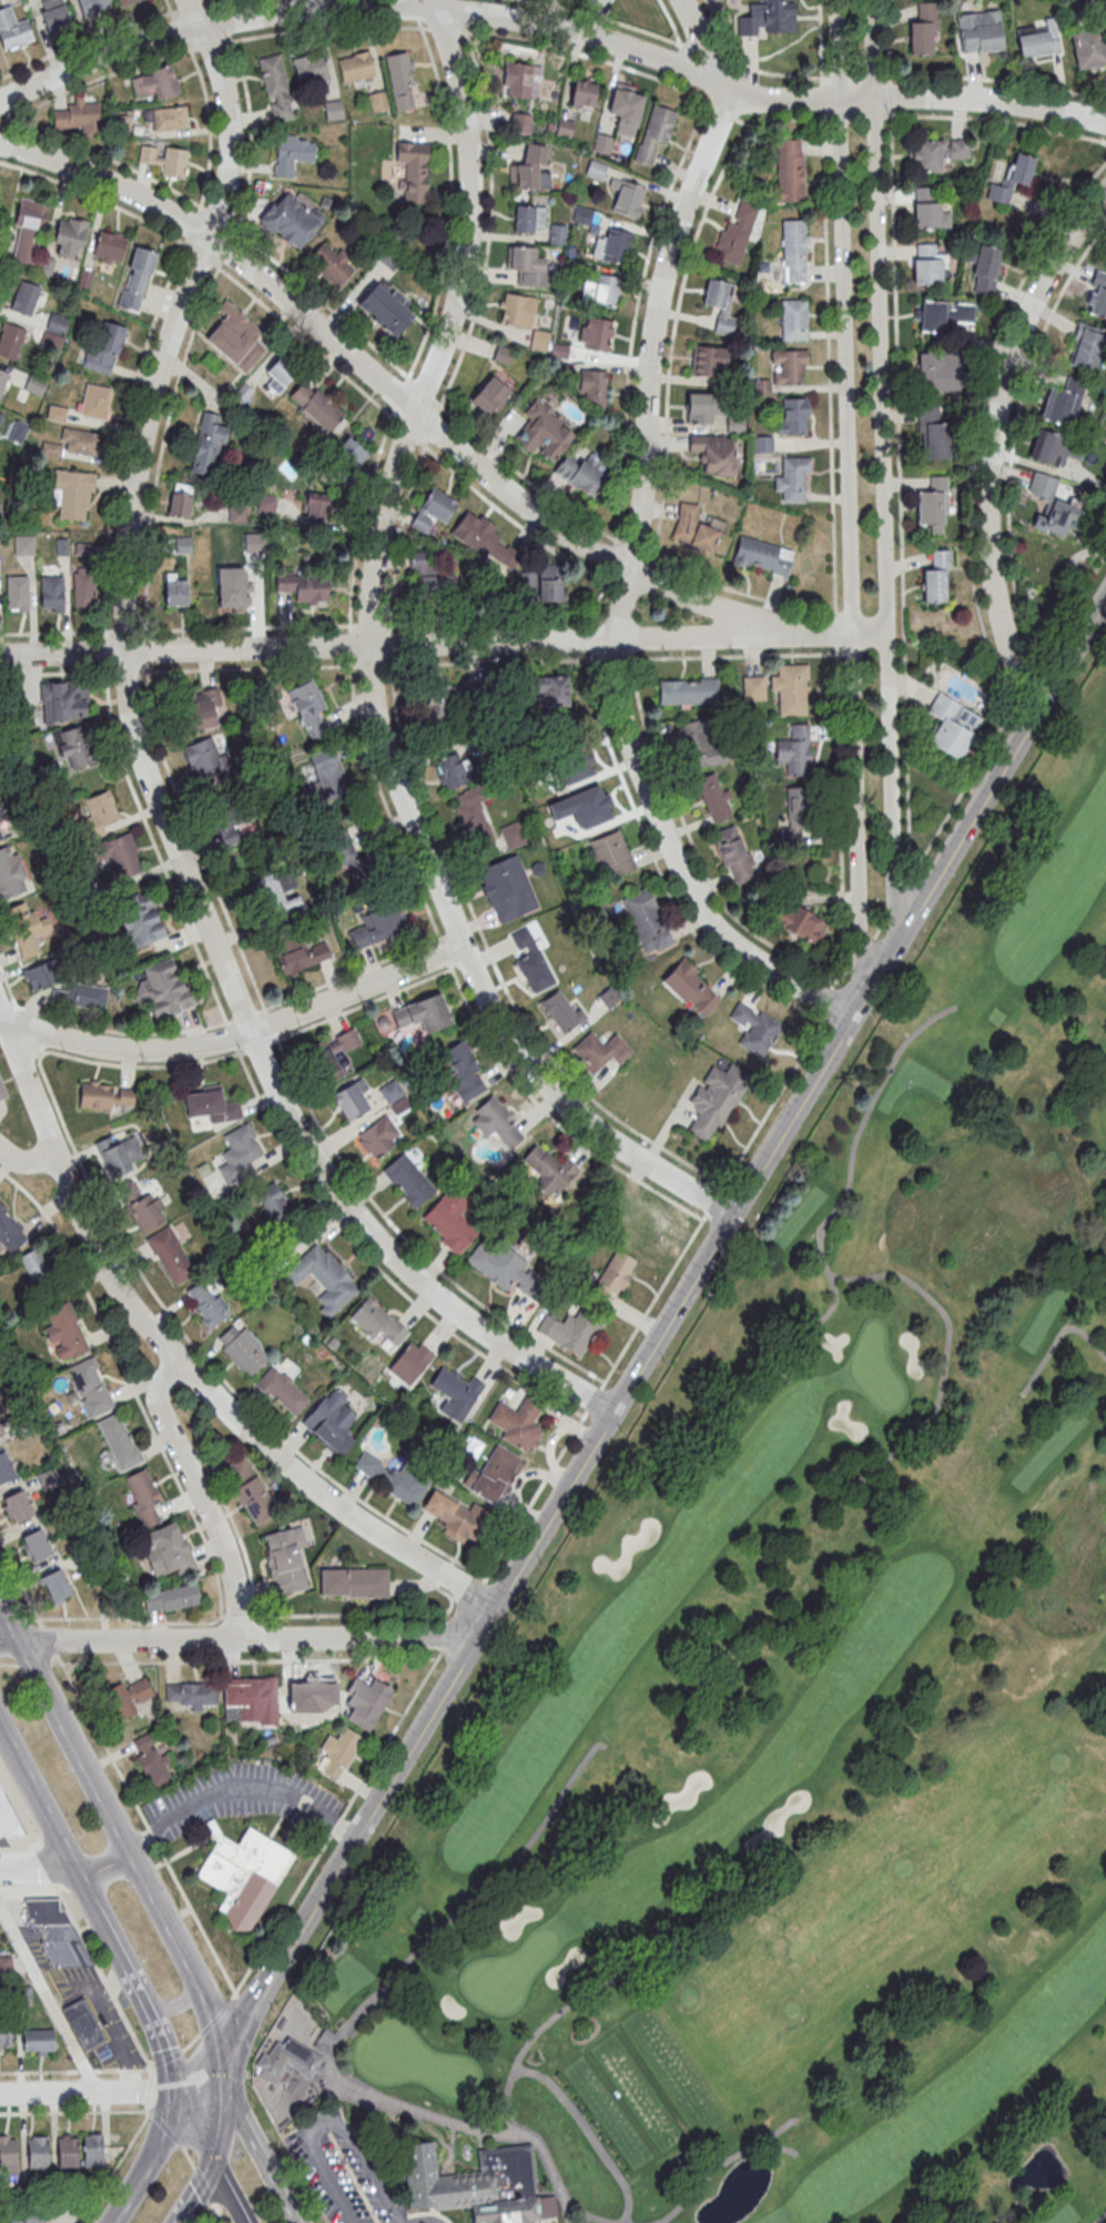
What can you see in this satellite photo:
building: (124, 1)
road: (217, 2)
building: (92, 7)
road: (189, 8)
road: (169, 9)
road: (414, 9)
building: (774, 9)
road: (459, 10)
building: (53, 13)
road: (608, 17)
road: (326, 27)
road: (444, 29)
road: (552, 29)
building: (923, 29)
building: (12, 30)
road: (180, 30)
building: (978, 30)
building: (1037, 38)
road: (85, 41)
road: (821, 41)
road: (890, 43)
road: (680, 44)
road: (212, 46)
building: (1089, 47)
road: (704, 48)
road: (730, 49)
building: (355, 67)
building: (310, 68)
road: (750, 68)
road: (856, 75)
road: (101, 78)
building: (520, 79)
road: (995, 79)
building: (400, 80)
building: (155, 81)
building: (275, 87)
building: (582, 93)
road: (822, 98)
road: (892, 99)
building: (377, 100)
road: (2, 107)
building: (626, 108)
building: (333, 109)
road: (709, 109)
road: (724, 113)
building: (77, 115)
road: (855, 117)
building: (165, 118)
road: (250, 118)
road: (996, 120)
road: (9, 121)
road: (741, 121)
building: (520, 122)
road: (210, 125)
building: (565, 128)
building: (655, 132)
road: (4, 138)
building: (602, 142)
building: (936, 152)
building: (292, 153)
road: (112, 159)
building: (164, 159)
building: (531, 168)
building: (413, 169)
building: (790, 169)
building: (1011, 178)
road: (667, 192)
building: (627, 196)
road: (99, 198)
road: (13, 199)
road: (451, 203)
building: (927, 209)
road: (217, 214)
building: (581, 214)
building: (528, 219)
building: (290, 220)
road: (490, 220)
road: (194, 224)
building: (29, 229)
building: (557, 233)
building: (734, 235)
building: (69, 236)
building: (612, 245)
building: (108, 246)
road: (226, 250)
building: (793, 250)
road: (203, 255)
building: (389, 257)
building: (331, 263)
building: (927, 263)
building: (528, 265)
building: (984, 269)
building: (139, 272)
building: (600, 290)
road: (681, 296)
building: (23, 297)
road: (322, 301)
building: (1098, 302)
building: (720, 303)
building: (513, 306)
building: (385, 309)
building: (943, 314)
building: (793, 319)
building: (235, 336)
building: (593, 337)
building: (10, 338)
road: (308, 343)
building: (1086, 346)
building: (103, 350)
building: (709, 360)
building: (790, 366)
road: (831, 366)
building: (936, 370)
building: (278, 374)
building: (2, 378)
building: (592, 386)
road: (425, 390)
road: (388, 391)
building: (489, 394)
road: (400, 396)
building: (1063, 400)
building: (94, 401)
building: (318, 407)
building: (702, 407)
building: (793, 415)
road: (975, 418)
building: (735, 423)
road: (432, 427)
building: (545, 431)
road: (124, 433)
road: (410, 433)
road: (991, 436)
road: (1014, 436)
building: (936, 439)
building: (80, 441)
building: (762, 443)
building: (207, 444)
road: (163, 445)
building: (1046, 446)
building: (713, 453)
building: (353, 455)
road: (882, 469)
building: (581, 473)
road: (525, 476)
building: (793, 478)
road: (899, 486)
building: (72, 493)
road: (848, 497)
building: (266, 502)
building: (180, 503)
building: (932, 503)
building: (317, 505)
building: (1054, 507)
building: (434, 512)
building: (236, 513)
road: (363, 518)
road: (513, 518)
building: (694, 527)
road: (399, 534)
building: (480, 538)
building: (182, 544)
road: (632, 544)
building: (23, 545)
road: (633, 549)
road: (609, 555)
building: (762, 555)
road: (650, 556)
building: (427, 575)
building: (935, 580)
building: (542, 583)
road: (620, 583)
building: (304, 586)
building: (175, 588)
building: (84, 590)
building: (17, 593)
building: (51, 593)
building: (229, 593)
road: (747, 593)
road: (598, 596)
road: (1072, 609)
road: (848, 613)
road: (487, 623)
road: (367, 625)
road: (245, 627)
road: (126, 629)
road: (59, 631)
road: (836, 633)
road: (834, 635)
road: (595, 639)
road: (390, 641)
road: (352, 643)
road: (384, 643)
road: (631, 645)
road: (143, 650)
road: (108, 651)
road: (848, 653)
road: (733, 655)
road: (613, 658)
road: (493, 660)
road: (371, 664)
road: (369, 666)
road: (251, 667)
road: (130, 670)
road: (59, 674)
road: (1031, 678)
building: (753, 687)
building: (791, 688)
building: (688, 690)
building: (545, 694)
building: (63, 700)
building: (438, 706)
building: (308, 707)
building: (195, 709)
building: (948, 727)
building: (701, 745)
building: (72, 747)
building: (795, 749)
building: (202, 757)
building: (328, 768)
road: (146, 781)
road: (965, 784)
building: (713, 797)
road: (385, 800)
building: (796, 812)
building: (98, 814)
building: (474, 816)
building: (224, 829)
building: (0, 833)
building: (511, 835)
road: (197, 839)
road: (158, 849)
building: (356, 851)
building: (610, 853)
building: (733, 853)
building: (113, 855)
road: (660, 869)
building: (10, 873)
building: (504, 889)
building: (276, 897)
building: (139, 918)
building: (646, 919)
building: (799, 921)
building: (379, 924)
road: (881, 926)
building: (28, 927)
road: (451, 933)
road: (446, 952)
building: (298, 953)
building: (531, 959)
road: (496, 962)
road: (463, 964)
road: (804, 964)
road: (848, 970)
road: (354, 972)
road: (832, 984)
road: (9, 988)
building: (163, 988)
building: (691, 988)
building: (80, 996)
building: (609, 996)
road: (831, 1002)
road: (858, 1002)
road: (364, 1004)
building: (561, 1011)
building: (424, 1012)
road: (247, 1015)
road: (271, 1023)
building: (754, 1028)
road: (124, 1030)
road: (30, 1032)
road: (236, 1037)
road: (233, 1039)
road: (20, 1043)
road: (258, 1048)
building: (334, 1051)
building: (599, 1051)
road: (41, 1053)
building: (464, 1070)
building: (2, 1090)
building: (94, 1094)
building: (713, 1098)
building: (352, 1100)
building: (212, 1104)
road: (551, 1114)
building: (497, 1121)
building: (377, 1136)
building: (121, 1152)
building: (239, 1153)
road: (27, 1162)
building: (408, 1180)
road: (848, 1184)
building: (126, 1191)
road: (74, 1193)
building: (273, 1201)
road: (712, 1201)
building: (145, 1211)
building: (631, 1217)
building: (450, 1220)
building: (10, 1230)
road: (408, 1239)
building: (170, 1254)
building: (34, 1264)
road: (377, 1265)
building: (501, 1265)
building: (615, 1274)
building: (324, 1277)
road: (145, 1280)
building: (206, 1302)
building: (378, 1321)
building: (568, 1330)
building: (64, 1331)
road: (1056, 1336)
building: (242, 1348)
road: (944, 1352)
building: (409, 1362)
park: (874, 1366)
building: (90, 1386)
building: (282, 1391)
building: (456, 1392)
road: (155, 1398)
road: (595, 1398)
building: (332, 1421)
building: (519, 1421)
building: (120, 1442)
building: (4, 1467)
road: (172, 1469)
building: (493, 1474)
building: (48, 1477)
building: (388, 1477)
building: (248, 1489)
building: (143, 1496)
road: (536, 1496)
road: (324, 1498)
building: (18, 1506)
road: (551, 1509)
building: (453, 1514)
road: (236, 1532)
road: (219, 1536)
building: (35, 1545)
building: (166, 1550)
building: (285, 1559)
road: (20, 1582)
building: (353, 1582)
road: (417, 1583)
building: (55, 1584)
road: (469, 1589)
building: (171, 1597)
road: (451, 1598)
road: (369, 1615)
road: (221, 1616)
road: (236, 1616)
road: (13, 1618)
road: (444, 1618)
road: (484, 1621)
road: (354, 1637)
road: (443, 1637)
road: (48, 1639)
road: (116, 1640)
road: (243, 1660)
road: (33, 1663)
road: (8, 1664)
park: (798, 1689)
building: (191, 1694)
building: (310, 1694)
building: (125, 1698)
building: (252, 1698)
building: (366, 1701)
road: (68, 1731)
road: (392, 1734)
road: (101, 1740)
building: (337, 1751)
building: (151, 1761)
road: (241, 1787)
parking lot: (245, 1795)
road: (48, 1816)
building: (8, 1818)
road: (337, 1825)
road: (26, 1829)
road: (151, 1833)
road: (351, 1848)
road: (105, 1865)
road: (38, 1867)
road: (45, 1867)
building: (243, 1872)
road: (281, 1916)
road: (197, 1918)
building: (55, 1931)
road: (111, 1934)
road: (92, 1956)
road: (186, 1959)
building: (4, 1963)
road: (132, 1973)
road: (48, 1998)
road: (168, 2005)
road: (243, 2008)
road: (216, 2015)
road: (552, 2015)
road: (353, 2018)
building: (82, 2023)
building: (6, 2038)
building: (38, 2041)
road: (192, 2041)
road: (164, 2047)
road: (169, 2058)
traffic signals: (227, 2060)
building: (285, 2060)
road: (78, 2071)
road: (206, 2085)
road: (95, 2090)
road: (146, 2090)
road: (336, 2103)
road: (73, 2112)
traffic signals: (186, 2112)
road: (221, 2112)
road: (331, 2120)
road: (587, 2132)
road: (197, 2138)
road: (179, 2139)
road: (257, 2143)
road: (774, 2148)
building: (93, 2150)
building: (8, 2151)
building: (38, 2151)
building: (67, 2151)
road: (190, 2158)
road: (115, 2164)
traffic signals: (210, 2164)
road: (720, 2164)
road: (150, 2168)
parking lot: (339, 2171)
building: (474, 2183)
road: (204, 2186)
road: (225, 2193)
road: (195, 2194)
road: (541, 2195)
road: (575, 2209)
road: (428, 2212)
road: (220, 2213)
building: (33, 2216)
road: (597, 2216)
road: (1099, 2216)
road: (400, 2217)

